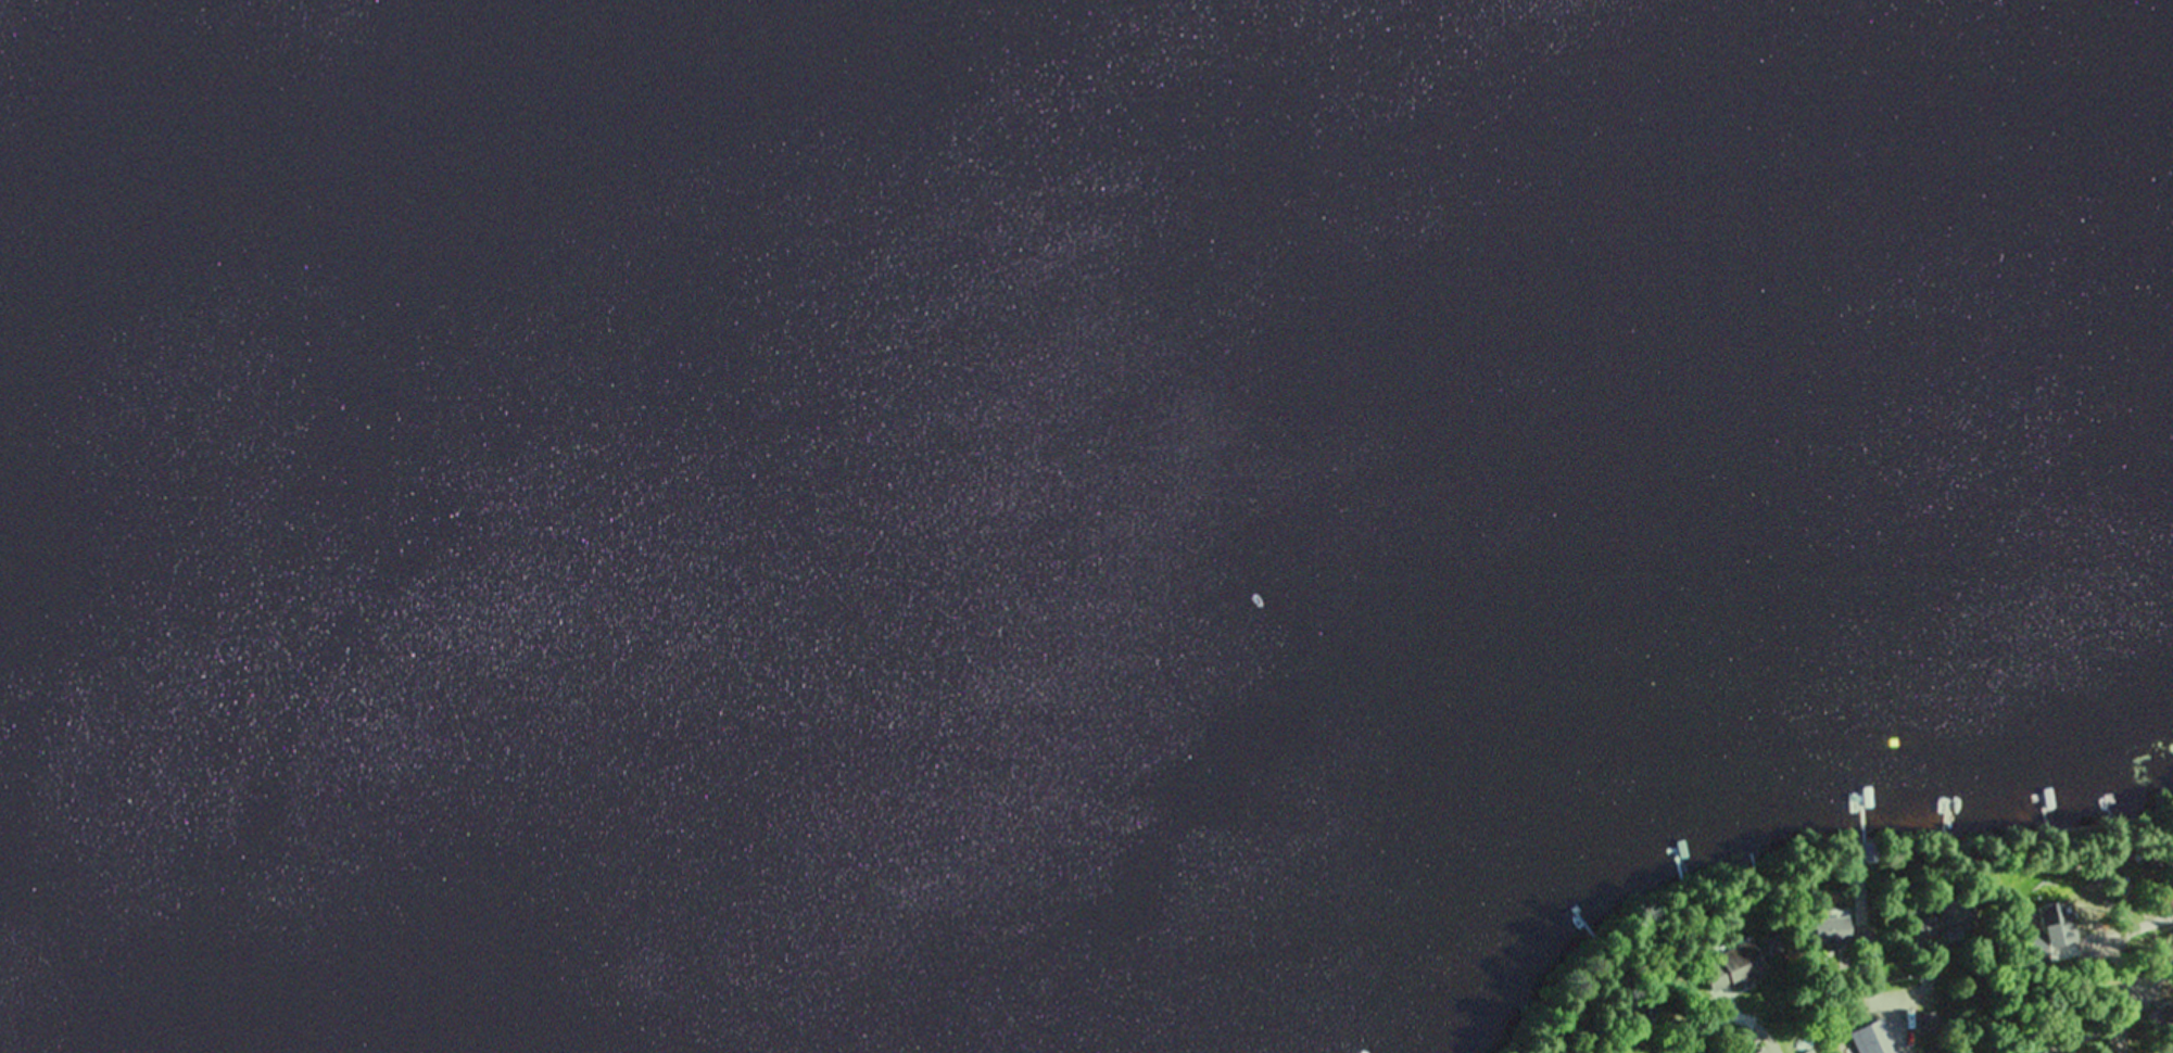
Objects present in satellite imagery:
building: (1936, 923)
building: (2051, 926)
building: (1822, 931)
building: (1859, 941)
building: (1724, 970)
road: (1945, 985)
building: (1883, 1040)
building: (1759, 1052)

